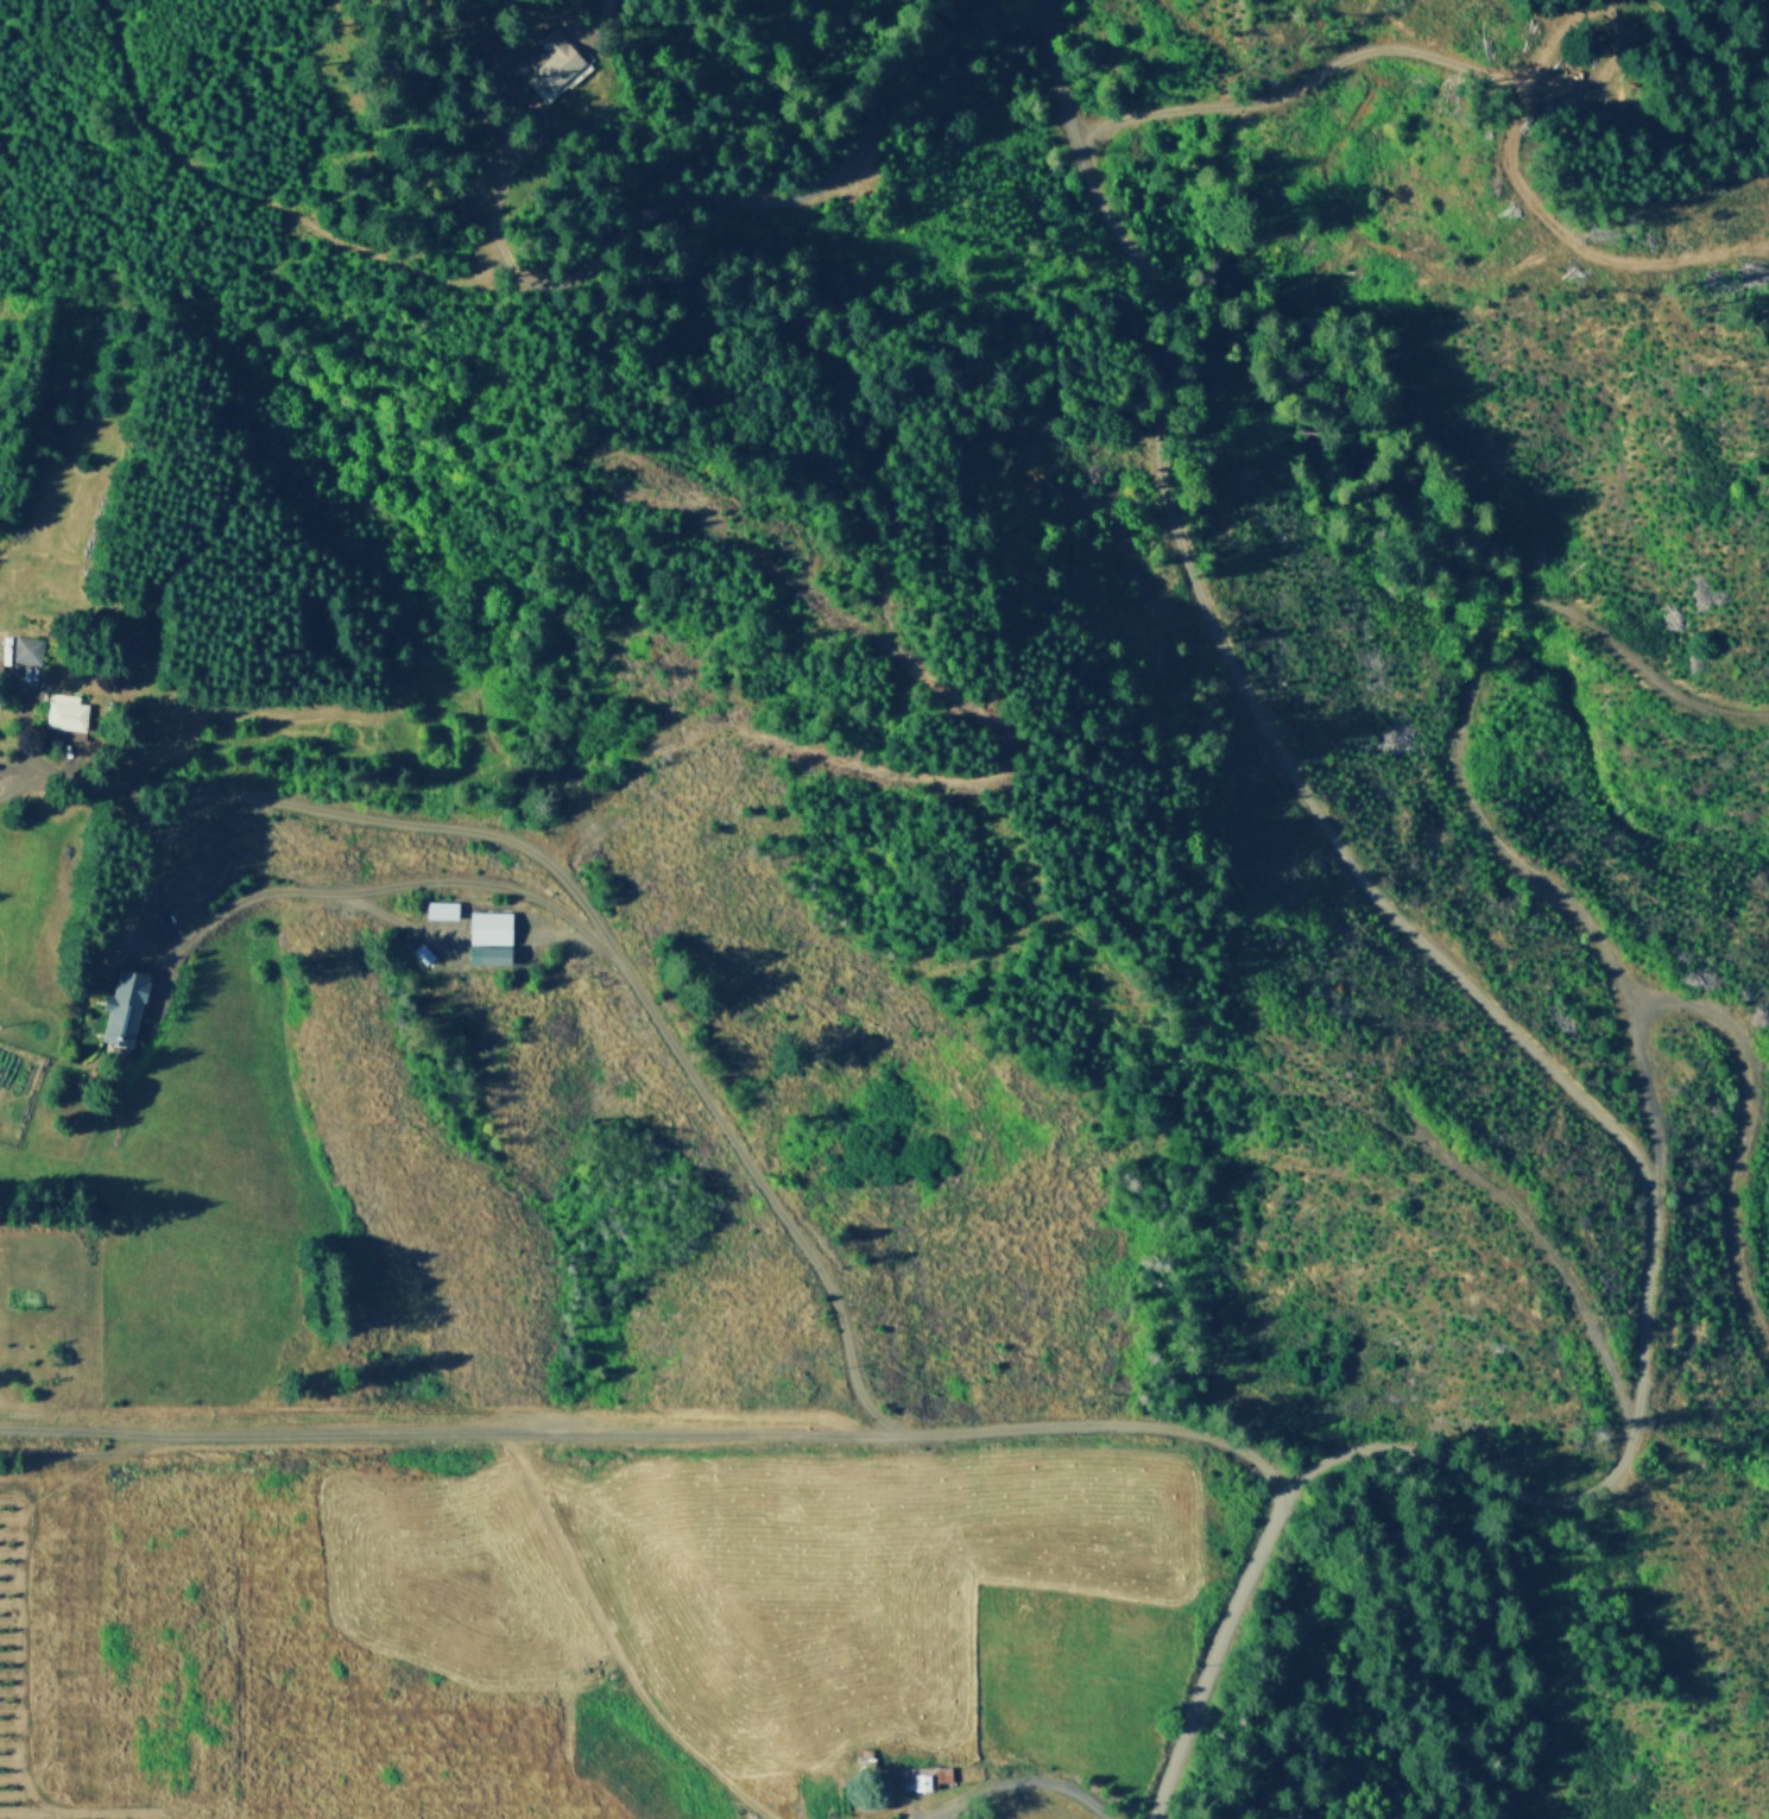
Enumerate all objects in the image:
road: (465, 0)
building: (615, 8)
road: (1403, 48)
road: (1243, 58)
building: (562, 61)
road: (786, 94)
road: (270, 202)
road: (639, 221)
road: (346, 487)
building: (31, 649)
building: (72, 715)
road: (783, 737)
road: (510, 762)
road: (71, 775)
road: (1470, 778)
road: (166, 884)
road: (373, 886)
building: (447, 910)
building: (495, 927)
road: (1411, 931)
road: (466, 947)
building: (425, 952)
building: (486, 954)
road: (644, 994)
building: (131, 1005)
road: (1742, 1131)
road: (1547, 1253)
road: (1108, 1422)
road: (88, 1430)
road: (456, 1433)
road: (613, 1644)
road: (1218, 1654)
building: (923, 1771)
road: (1024, 1781)

